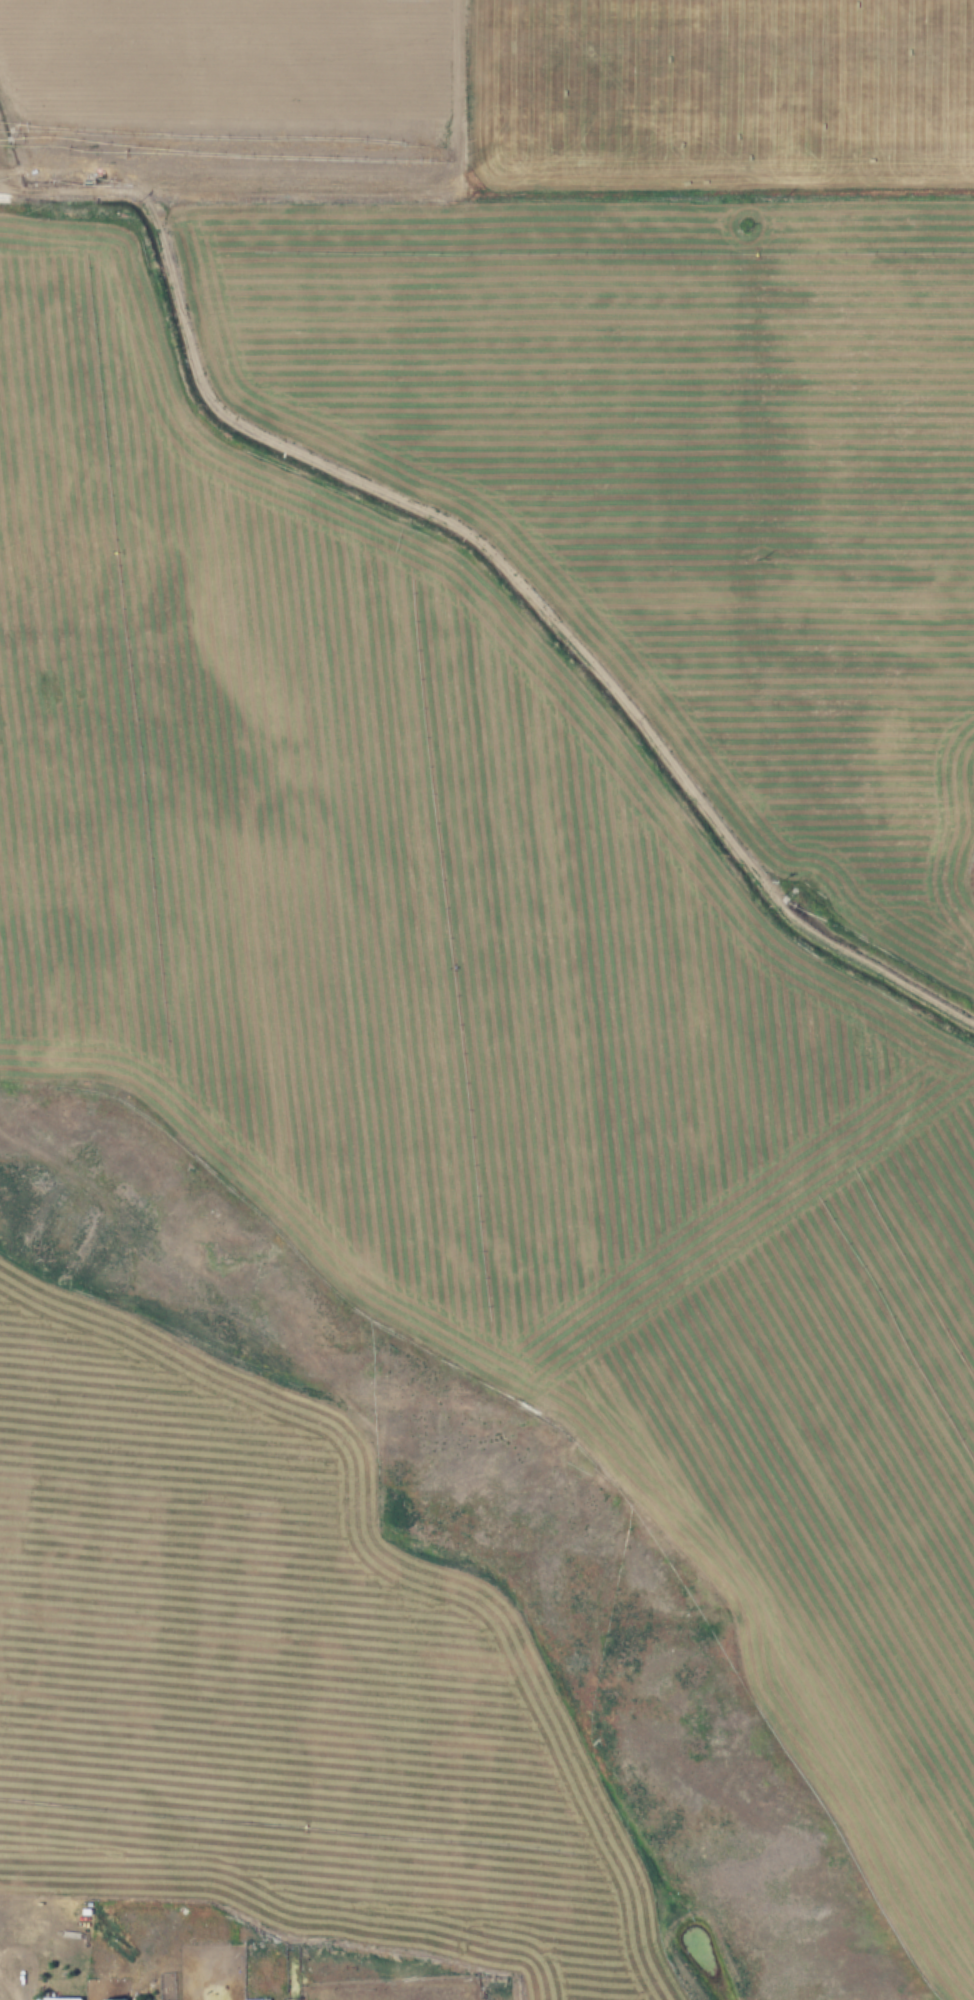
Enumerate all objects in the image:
crop: (487, 999)
building: (57, 1998)
building: (114, 1999)

